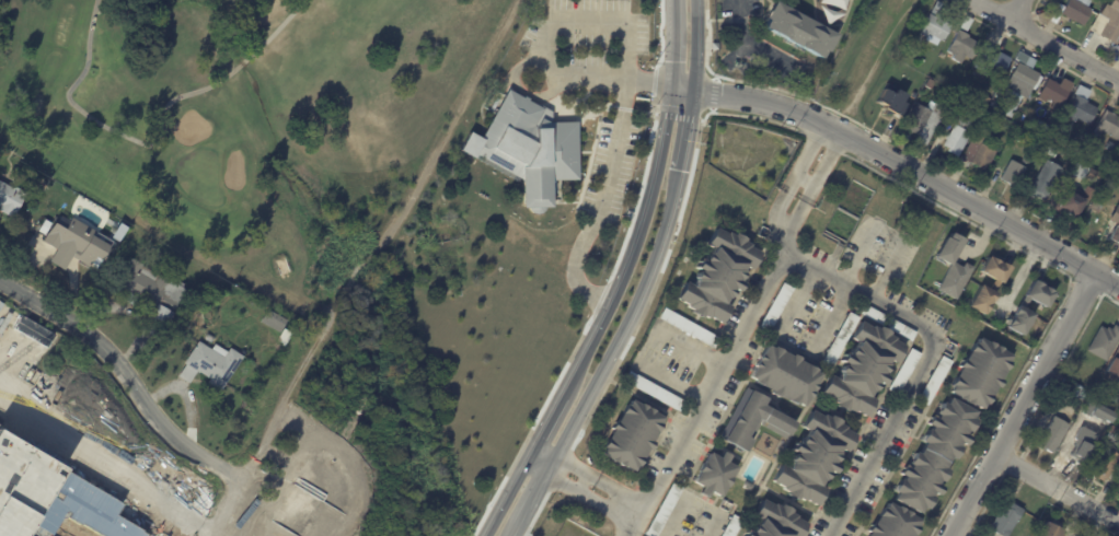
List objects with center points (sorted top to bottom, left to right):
building: (831, 3)
building: (938, 10)
road: (1016, 11)
building: (1076, 12)
building: (1107, 22)
road: (568, 23)
road: (276, 30)
building: (935, 31)
building: (800, 34)
road: (746, 38)
road: (1043, 39)
road: (672, 42)
road: (696, 45)
building: (962, 48)
building: (1022, 59)
road: (242, 62)
building: (993, 62)
road: (610, 77)
building: (1023, 82)
road: (514, 84)
building: (930, 85)
road: (682, 88)
building: (1053, 94)
building: (888, 97)
building: (984, 102)
building: (997, 108)
building: (1081, 112)
road: (657, 113)
park: (237, 114)
building: (923, 124)
building: (1034, 126)
building: (1108, 127)
road: (689, 132)
road: (117, 133)
building: (958, 137)
building: (1068, 142)
building: (529, 148)
building: (1051, 153)
building: (979, 155)
road: (804, 156)
road: (823, 166)
building: (1078, 172)
road: (912, 173)
building: (1013, 175)
park: (198, 176)
road: (609, 176)
building: (1094, 177)
road: (804, 180)
building: (1046, 182)
building: (10, 199)
road: (780, 207)
building: (1070, 207)
road: (796, 213)
building: (1117, 215)
road: (784, 240)
building: (1116, 240)
road: (636, 241)
building: (73, 244)
road: (860, 252)
road: (889, 267)
building: (954, 267)
road: (817, 270)
building: (719, 276)
building: (995, 287)
building: (151, 294)
building: (1040, 294)
road: (794, 304)
building: (775, 310)
building: (872, 314)
building: (1020, 321)
building: (274, 322)
road: (830, 322)
building: (181, 323)
road: (627, 325)
building: (690, 328)
building: (901, 330)
building: (210, 338)
building: (840, 340)
building: (1105, 342)
road: (689, 346)
building: (210, 365)
building: (1115, 368)
building: (863, 369)
building: (905, 372)
building: (981, 373)
road: (126, 375)
building: (786, 376)
road: (670, 380)
building: (935, 381)
building: (1073, 388)
building: (1103, 388)
building: (655, 392)
building: (1096, 399)
road: (1022, 405)
building: (1105, 417)
road: (546, 419)
building: (753, 421)
road: (270, 428)
building: (1115, 434)
building: (1053, 435)
building: (633, 436)
building: (1081, 453)
building: (935, 455)
building: (815, 458)
road: (540, 459)
building: (1104, 464)
road: (553, 466)
building: (715, 476)
road: (582, 483)
road: (1058, 486)
building: (1118, 487)
road: (505, 494)
building: (53, 499)
road: (535, 499)
road: (620, 502)
road: (630, 508)
building: (665, 510)
road: (673, 515)
building: (1007, 520)
building: (776, 522)
building: (895, 523)
road: (712, 525)
building: (732, 526)
building: (1052, 531)
road: (517, 534)
building: (748, 535)

